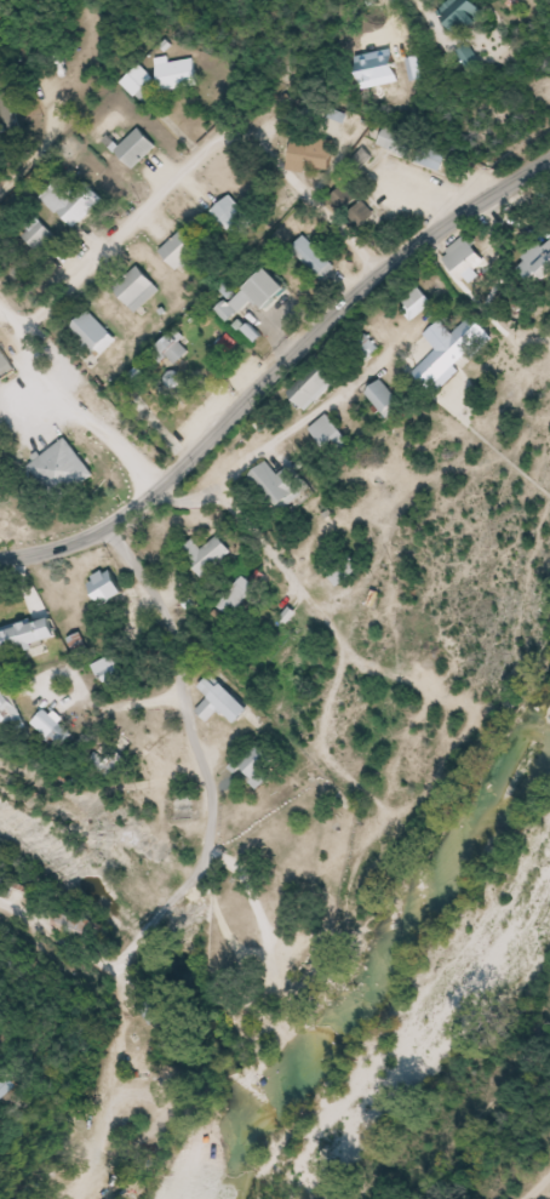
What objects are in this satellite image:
road: (389, 7)
building: (463, 16)
building: (470, 58)
building: (176, 74)
building: (141, 86)
road: (52, 121)
building: (8, 125)
building: (400, 142)
building: (137, 149)
building: (313, 155)
building: (434, 158)
building: (71, 200)
building: (354, 206)
building: (233, 218)
road: (122, 230)
building: (38, 236)
building: (183, 251)
building: (314, 258)
building: (465, 258)
building: (539, 266)
building: (138, 290)
building: (256, 295)
building: (418, 306)
road: (10, 321)
building: (93, 335)
building: (204, 349)
building: (174, 352)
building: (445, 356)
building: (5, 367)
road: (279, 372)
building: (315, 386)
building: (386, 400)
building: (142, 405)
building: (332, 438)
building: (63, 472)
building: (281, 487)
building: (210, 554)
building: (348, 570)
building: (236, 596)
building: (30, 643)
building: (110, 669)
building: (223, 701)
building: (8, 703)
building: (264, 765)
road: (211, 817)
building: (78, 925)
river: (379, 984)
building: (157, 1011)
road: (120, 1069)
building: (5, 1085)
road: (532, 1183)

